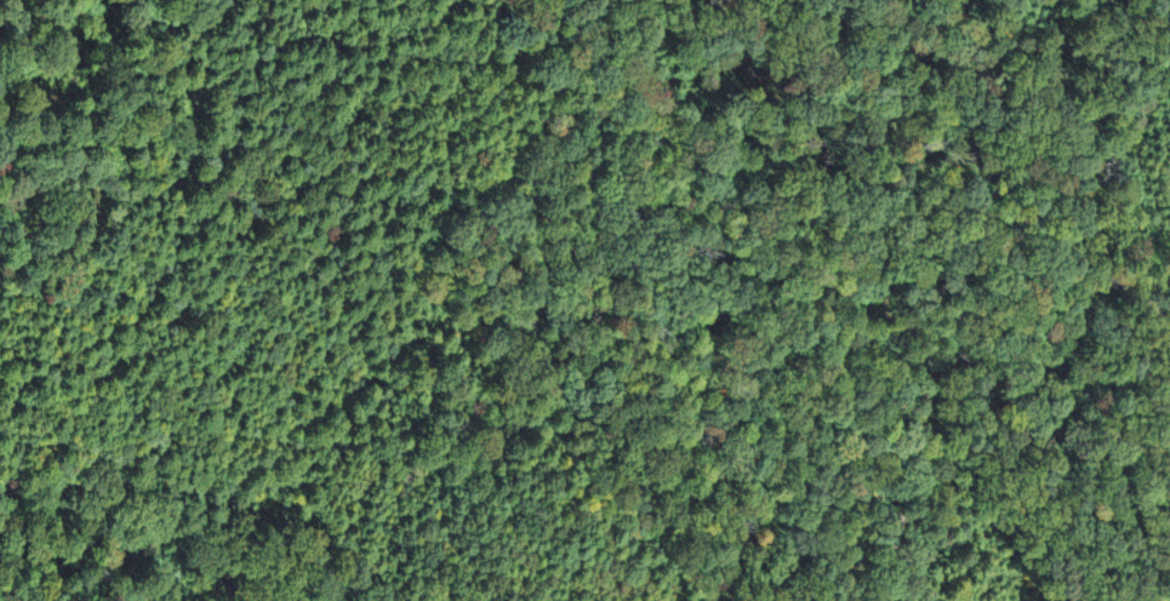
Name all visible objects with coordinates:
road: (529, 63)
road: (959, 354)

